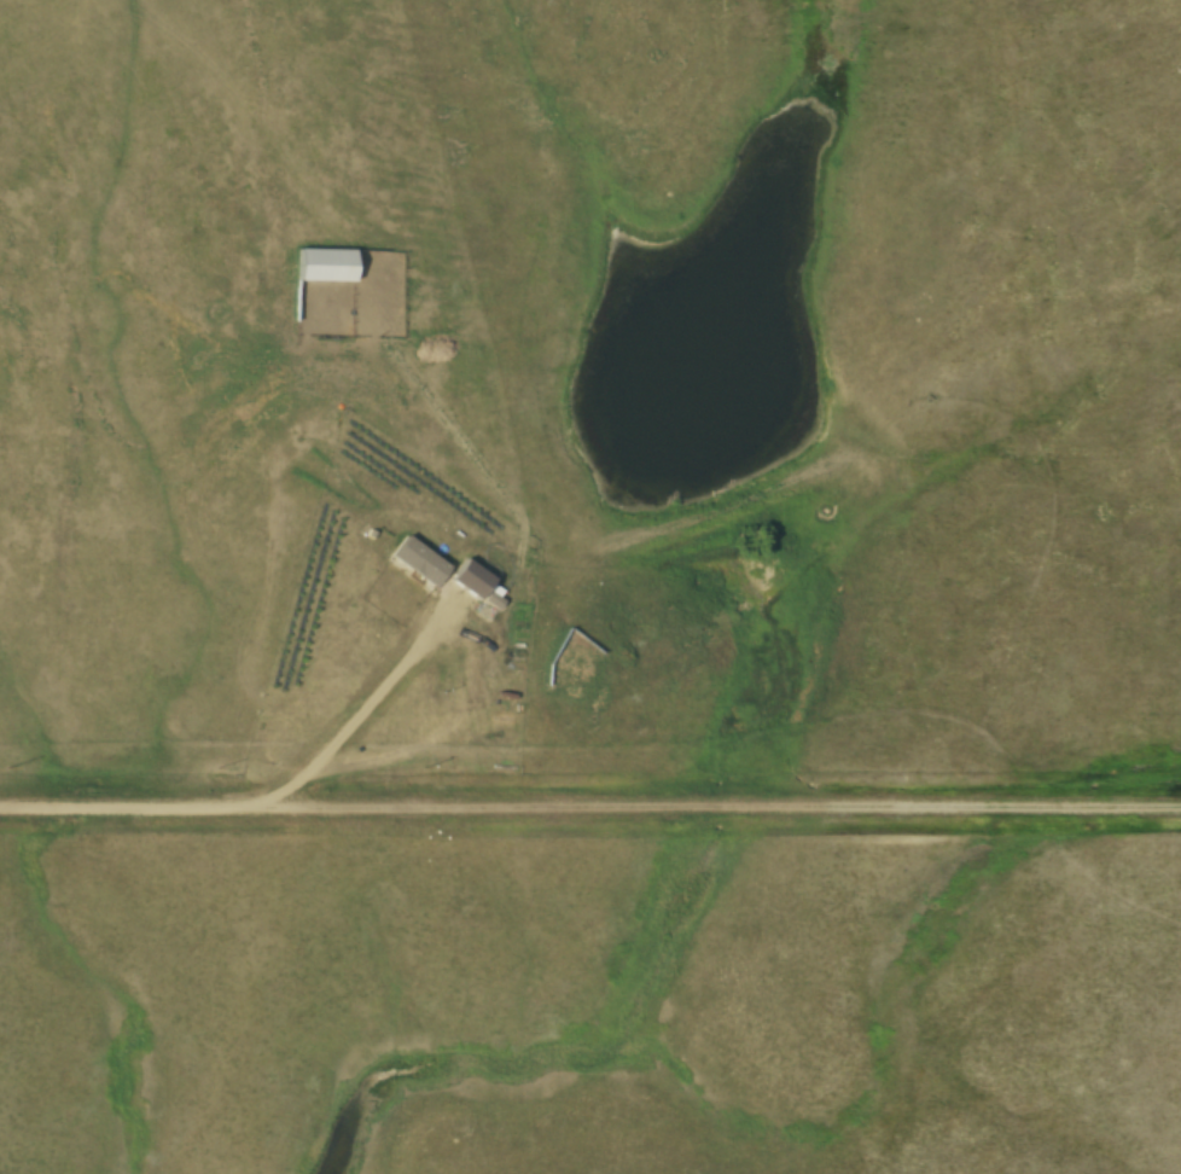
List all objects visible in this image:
road: (590, 804)

